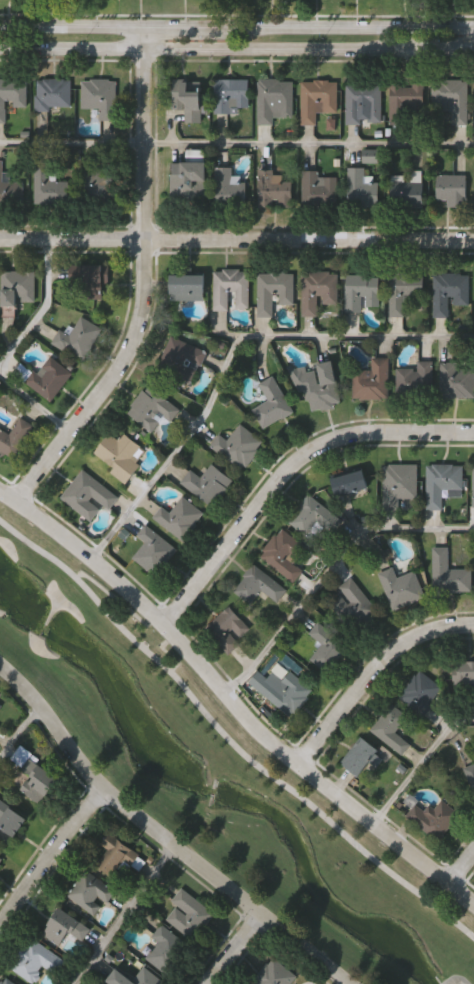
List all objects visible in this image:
road: (236, 28)
road: (206, 48)
road: (444, 48)
building: (54, 94)
building: (11, 96)
building: (100, 98)
building: (230, 99)
building: (273, 101)
building: (317, 101)
building: (452, 101)
building: (186, 104)
building: (363, 104)
building: (406, 104)
road: (236, 144)
building: (188, 184)
building: (99, 186)
building: (48, 187)
building: (9, 190)
building: (230, 191)
building: (318, 191)
building: (360, 191)
building: (273, 192)
building: (451, 192)
building: (405, 196)
road: (237, 238)
building: (93, 282)
road: (144, 284)
building: (17, 289)
building: (186, 289)
building: (231, 291)
building: (317, 292)
building: (403, 292)
building: (273, 293)
building: (449, 293)
building: (361, 294)
road: (43, 308)
building: (78, 340)
road: (232, 351)
building: (182, 361)
building: (49, 379)
building: (372, 382)
building: (415, 382)
building: (457, 382)
building: (318, 387)
road: (33, 403)
building: (272, 405)
building: (151, 411)
building: (15, 440)
building: (238, 448)
building: (119, 455)
road: (287, 469)
building: (349, 485)
building: (399, 485)
building: (207, 486)
building: (443, 486)
building: (473, 487)
building: (88, 497)
building: (179, 519)
building: (311, 520)
building: (153, 553)
building: (283, 556)
road: (330, 570)
building: (449, 575)
building: (258, 587)
building: (401, 590)
building: (353, 606)
building: (227, 631)
building: (325, 648)
road: (371, 671)
building: (464, 678)
building: (419, 693)
building: (287, 695)
road: (231, 701)
building: (0, 706)
building: (390, 728)
road: (19, 731)
road: (229, 737)
building: (360, 759)
road: (420, 766)
building: (470, 776)
building: (34, 777)
building: (433, 819)
building: (9, 825)
road: (162, 836)
road: (50, 856)
building: (117, 858)
building: (1, 861)
road: (461, 863)
building: (89, 894)
road: (126, 915)
building: (189, 916)
building: (64, 930)
road: (233, 949)
building: (165, 950)
building: (35, 962)
building: (274, 974)
building: (145, 977)
building: (5, 981)

